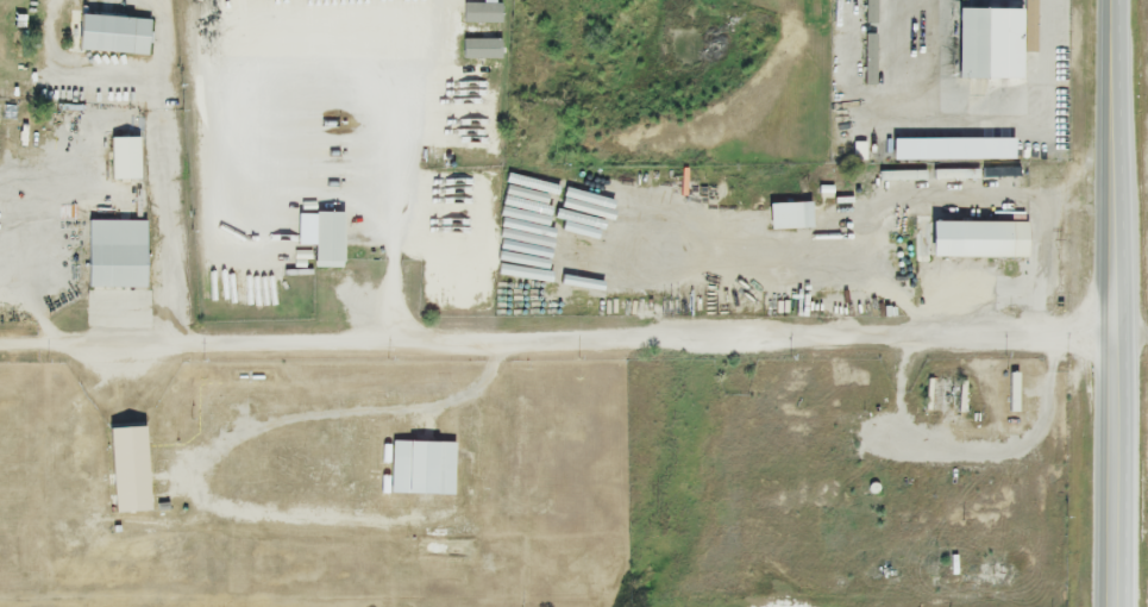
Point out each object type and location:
road: (167, 38)
building: (989, 45)
road: (68, 79)
road: (985, 102)
road: (1119, 167)
road: (397, 174)
road: (165, 213)
road: (1134, 333)
road: (559, 342)
road: (124, 382)
road: (1123, 470)
road: (217, 503)

